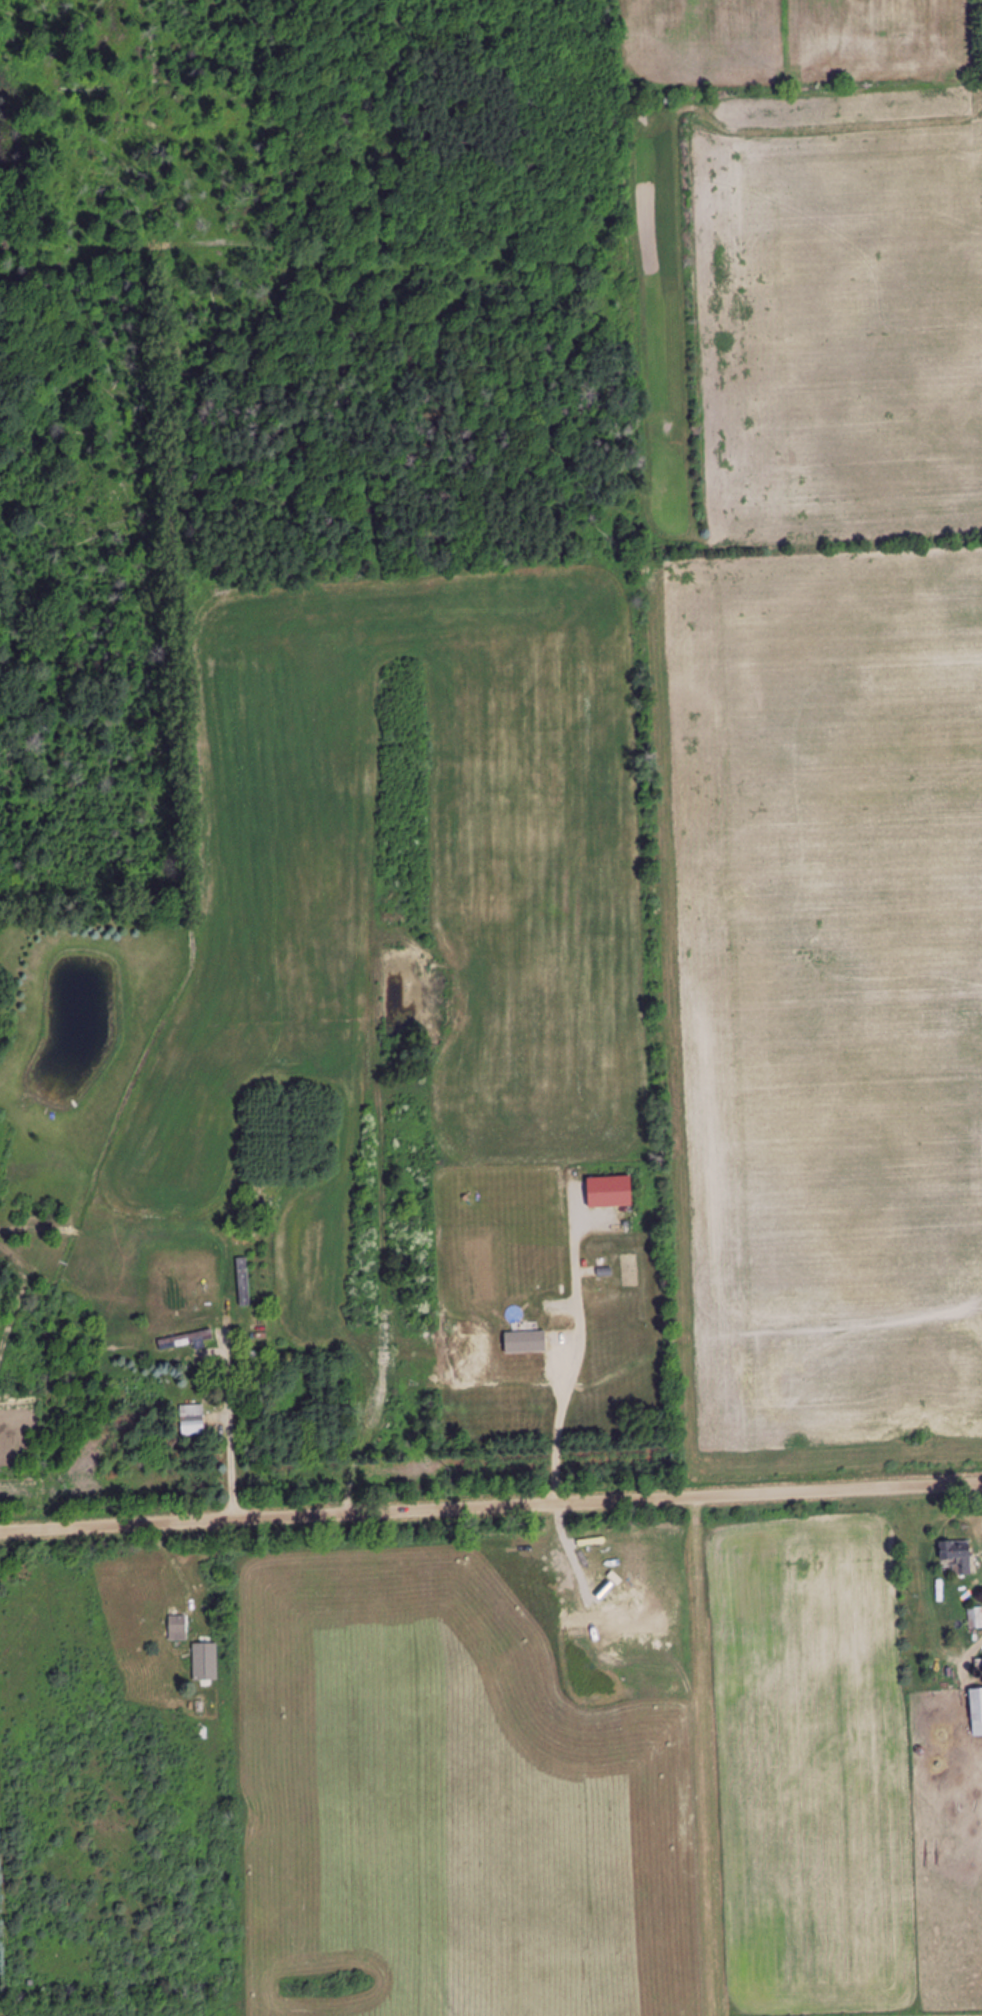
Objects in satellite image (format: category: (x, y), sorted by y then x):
building: (964, 788)
building: (610, 1191)
building: (542, 1338)
building: (186, 1340)
building: (192, 1420)
road: (491, 1508)
building: (955, 1557)
building: (976, 1618)
building: (636, 1621)
building: (178, 1628)
building: (976, 1705)

